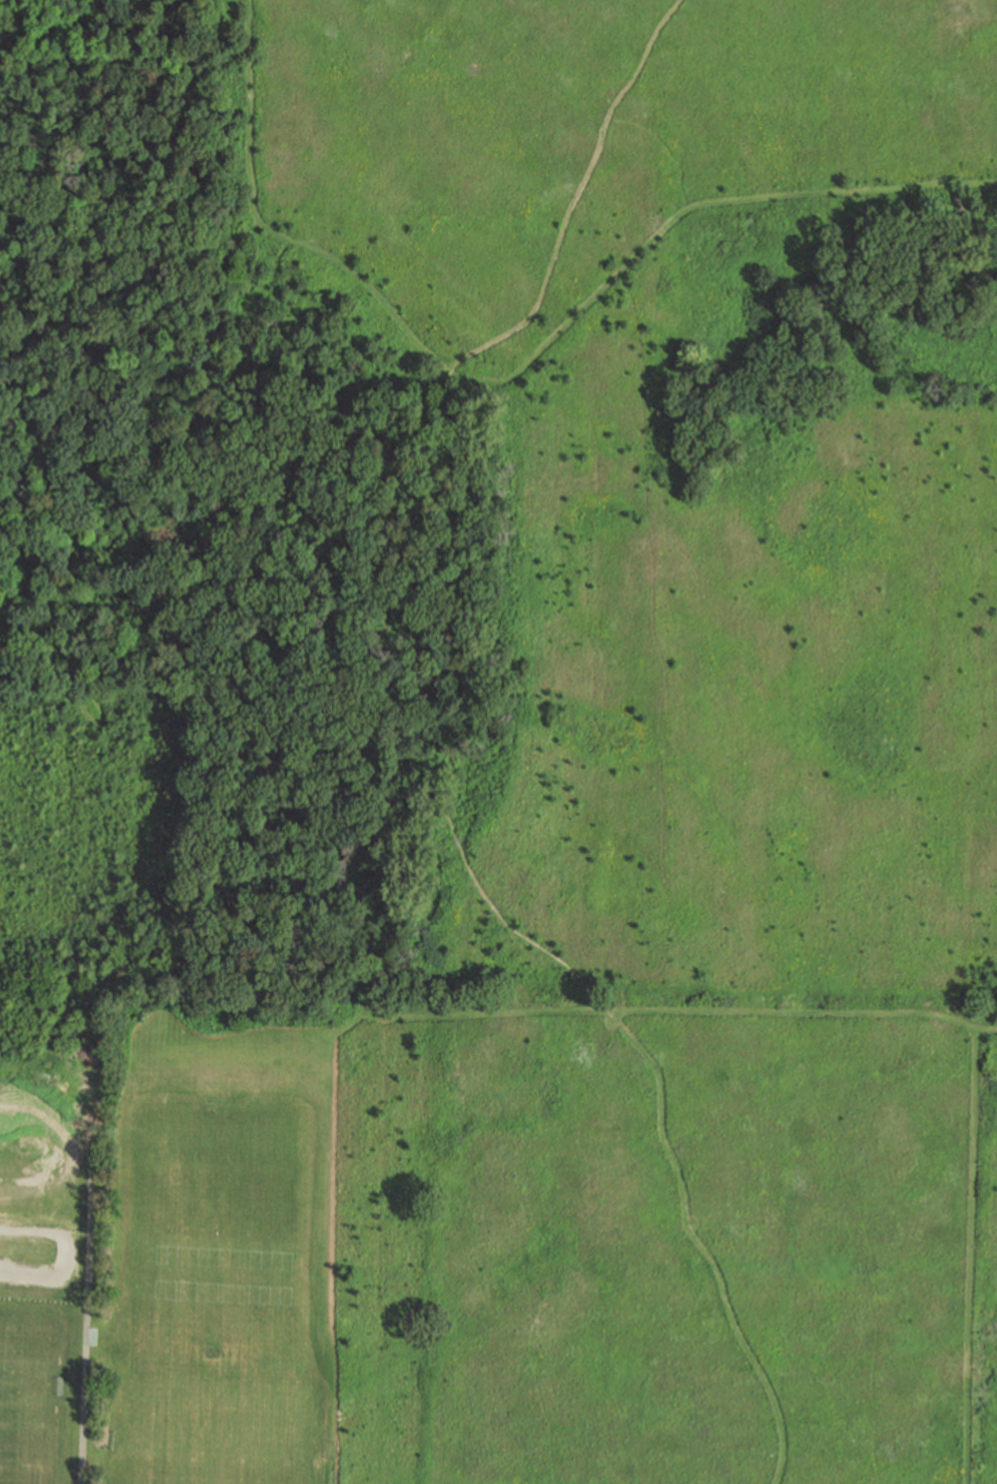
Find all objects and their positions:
road: (521, 370)
road: (662, 656)
road: (372, 755)
road: (508, 1012)
park: (212, 1223)
park: (166, 1238)
road: (72, 1256)
road: (971, 1258)
road: (87, 1328)
park: (29, 1392)
park: (216, 1427)

